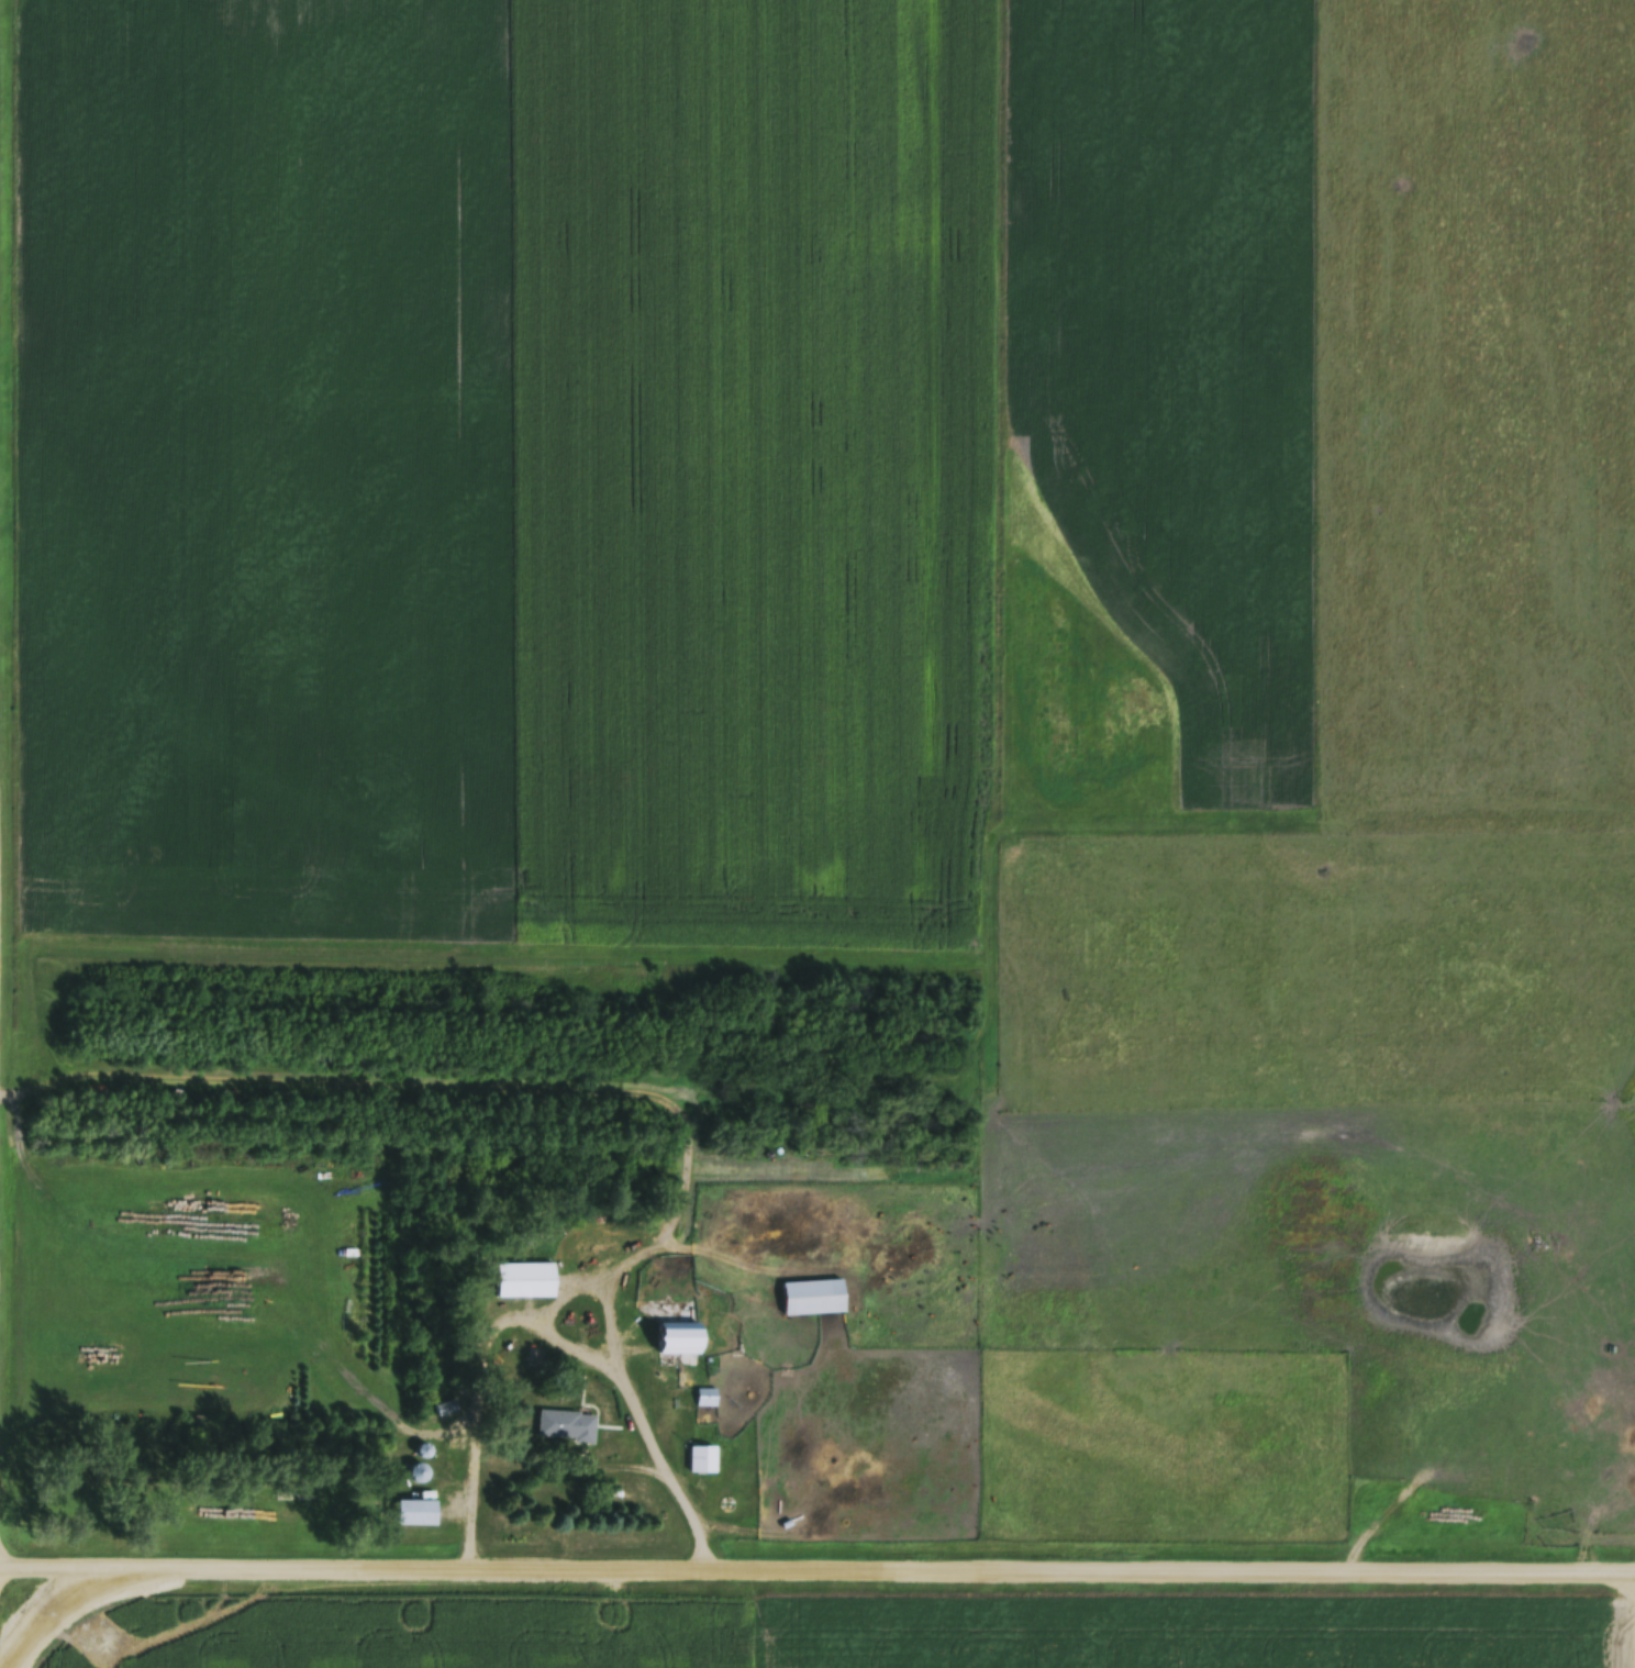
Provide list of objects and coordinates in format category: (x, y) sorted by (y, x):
building: (525, 1283)
building: (813, 1300)
road: (558, 1332)
building: (682, 1342)
building: (535, 1361)
building: (707, 1401)
building: (446, 1411)
building: (567, 1430)
building: (702, 1463)
road: (674, 1477)
road: (477, 1487)
building: (416, 1515)
road: (818, 1566)

